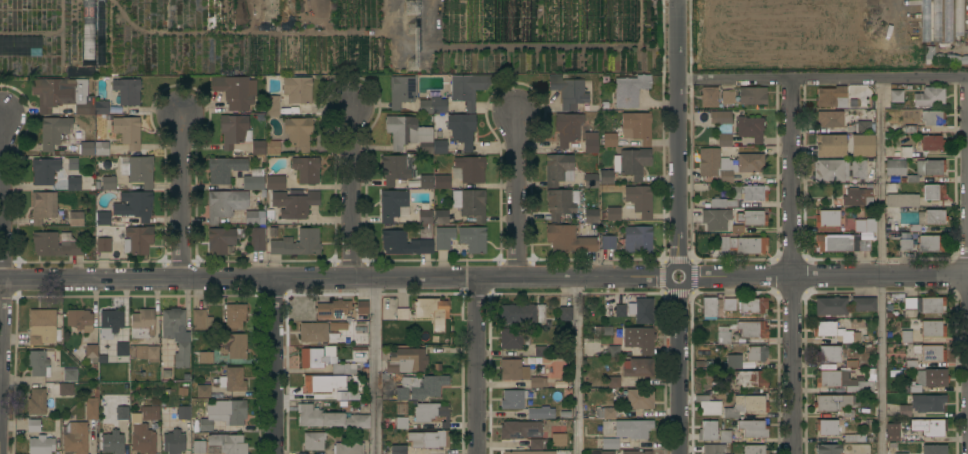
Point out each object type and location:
power tower: (418, 10)
building: (948, 20)
building: (959, 20)
building: (926, 21)
building: (937, 21)
building: (101, 31)
building: (88, 32)
power tower: (413, 49)
building: (942, 58)
road: (822, 78)
building: (468, 89)
building: (127, 90)
building: (630, 90)
building: (235, 91)
building: (401, 91)
building: (568, 91)
building: (298, 92)
building: (63, 94)
building: (842, 95)
building: (752, 96)
building: (896, 96)
building: (709, 97)
building: (727, 97)
building: (929, 97)
building: (604, 99)
building: (272, 106)
building: (432, 106)
building: (101, 107)
building: (916, 115)
building: (933, 118)
building: (830, 119)
building: (867, 123)
building: (637, 126)
building: (722, 127)
building: (568, 128)
building: (750, 128)
building: (905, 129)
building: (234, 130)
building: (462, 130)
building: (128, 131)
building: (54, 132)
building: (298, 132)
building: (406, 132)
road: (677, 133)
building: (608, 140)
building: (590, 142)
building: (931, 143)
building: (271, 144)
building: (830, 145)
building: (861, 145)
building: (258, 147)
building: (440, 147)
building: (86, 148)
building: (101, 148)
building: (426, 148)
building: (906, 152)
building: (633, 163)
building: (73, 164)
building: (727, 164)
building: (895, 168)
building: (224, 169)
building: (469, 169)
building: (558, 169)
building: (859, 169)
building: (138, 170)
building: (306, 170)
building: (394, 170)
building: (926, 170)
building: (44, 171)
building: (830, 171)
building: (606, 177)
building: (254, 180)
building: (591, 181)
building: (426, 182)
building: (441, 182)
building: (108, 183)
building: (275, 183)
building: (413, 183)
building: (73, 184)
building: (98, 186)
building: (741, 196)
building: (859, 196)
road: (354, 197)
road: (514, 197)
building: (917, 197)
road: (182, 199)
building: (640, 200)
building: (561, 203)
building: (225, 204)
building: (294, 204)
building: (392, 204)
building: (470, 204)
building: (134, 205)
building: (43, 206)
building: (611, 214)
building: (424, 215)
building: (591, 216)
building: (254, 217)
building: (441, 217)
building: (907, 217)
building: (76, 218)
building: (102, 218)
building: (830, 218)
building: (715, 219)
building: (928, 219)
building: (749, 220)
building: (888, 221)
building: (864, 225)
building: (891, 229)
building: (443, 238)
building: (222, 239)
building: (472, 239)
building: (568, 239)
building: (638, 239)
building: (137, 240)
building: (257, 240)
building: (608, 242)
building: (294, 243)
building: (405, 243)
building: (841, 243)
road: (3, 244)
building: (56, 244)
building: (104, 244)
building: (930, 244)
building: (743, 245)
building: (905, 245)
road: (881, 265)
road: (792, 266)
road: (686, 276)
road: (828, 277)
road: (334, 280)
building: (729, 304)
building: (863, 304)
building: (932, 305)
building: (752, 306)
building: (831, 306)
building: (908, 306)
building: (362, 307)
building: (709, 307)
building: (333, 309)
building: (642, 310)
building: (620, 311)
building: (432, 312)
building: (402, 314)
building: (522, 314)
building: (565, 314)
building: (889, 314)
building: (234, 315)
building: (357, 317)
building: (80, 320)
building: (200, 320)
building: (172, 322)
building: (110, 323)
building: (858, 323)
building: (142, 324)
building: (42, 327)
building: (753, 329)
building: (932, 329)
building: (618, 330)
building: (329, 331)
building: (602, 331)
building: (835, 332)
building: (890, 333)
building: (723, 335)
building: (906, 337)
building: (513, 339)
building: (639, 339)
building: (233, 346)
building: (122, 349)
building: (359, 350)
building: (540, 351)
building: (612, 351)
building: (144, 353)
building: (756, 353)
building: (932, 353)
building: (829, 354)
building: (51, 355)
building: (91, 355)
building: (182, 355)
building: (206, 357)
building: (358, 357)
building: (531, 359)
building: (324, 360)
building: (405, 361)
building: (733, 362)
building: (911, 363)
building: (38, 364)
building: (850, 364)
road: (477, 366)
road: (576, 366)
road: (275, 367)
road: (376, 367)
building: (637, 367)
building: (513, 370)
building: (539, 370)
road: (679, 370)
building: (871, 371)
building: (70, 375)
building: (834, 378)
building: (348, 379)
building: (750, 379)
building: (929, 379)
building: (231, 380)
building: (537, 382)
building: (614, 382)
building: (323, 383)
building: (559, 384)
building: (420, 387)
building: (859, 387)
building: (905, 388)
building: (66, 389)
building: (718, 389)
building: (155, 391)
building: (182, 391)
building: (203, 391)
building: (342, 395)
building: (353, 396)
building: (515, 398)
building: (639, 399)
building: (192, 401)
building: (36, 402)
building: (154, 402)
building: (835, 402)
building: (923, 404)
building: (708, 406)
building: (746, 406)
building: (91, 407)
building: (168, 411)
building: (121, 413)
building: (183, 413)
building: (431, 413)
building: (605, 413)
building: (849, 413)
building: (224, 414)
building: (565, 414)
building: (328, 418)
building: (401, 423)
building: (527, 424)
building: (149, 425)
building: (33, 426)
building: (929, 427)
building: (828, 428)
building: (632, 429)
building: (753, 429)
building: (144, 430)
building: (708, 431)
building: (892, 433)
building: (557, 436)
building: (725, 436)
building: (75, 437)
building: (855, 438)
building: (428, 439)
building: (870, 439)
building: (314, 441)
building: (112, 442)
building: (173, 442)
building: (228, 443)
building: (538, 444)
building: (610, 444)
building: (41, 445)
building: (198, 447)
building: (348, 448)
building: (713, 449)
building: (754, 449)
building: (828, 449)
building: (934, 449)
building: (398, 450)
building: (529, 452)
building: (607, 452)
building: (637, 452)
building: (901, 453)

